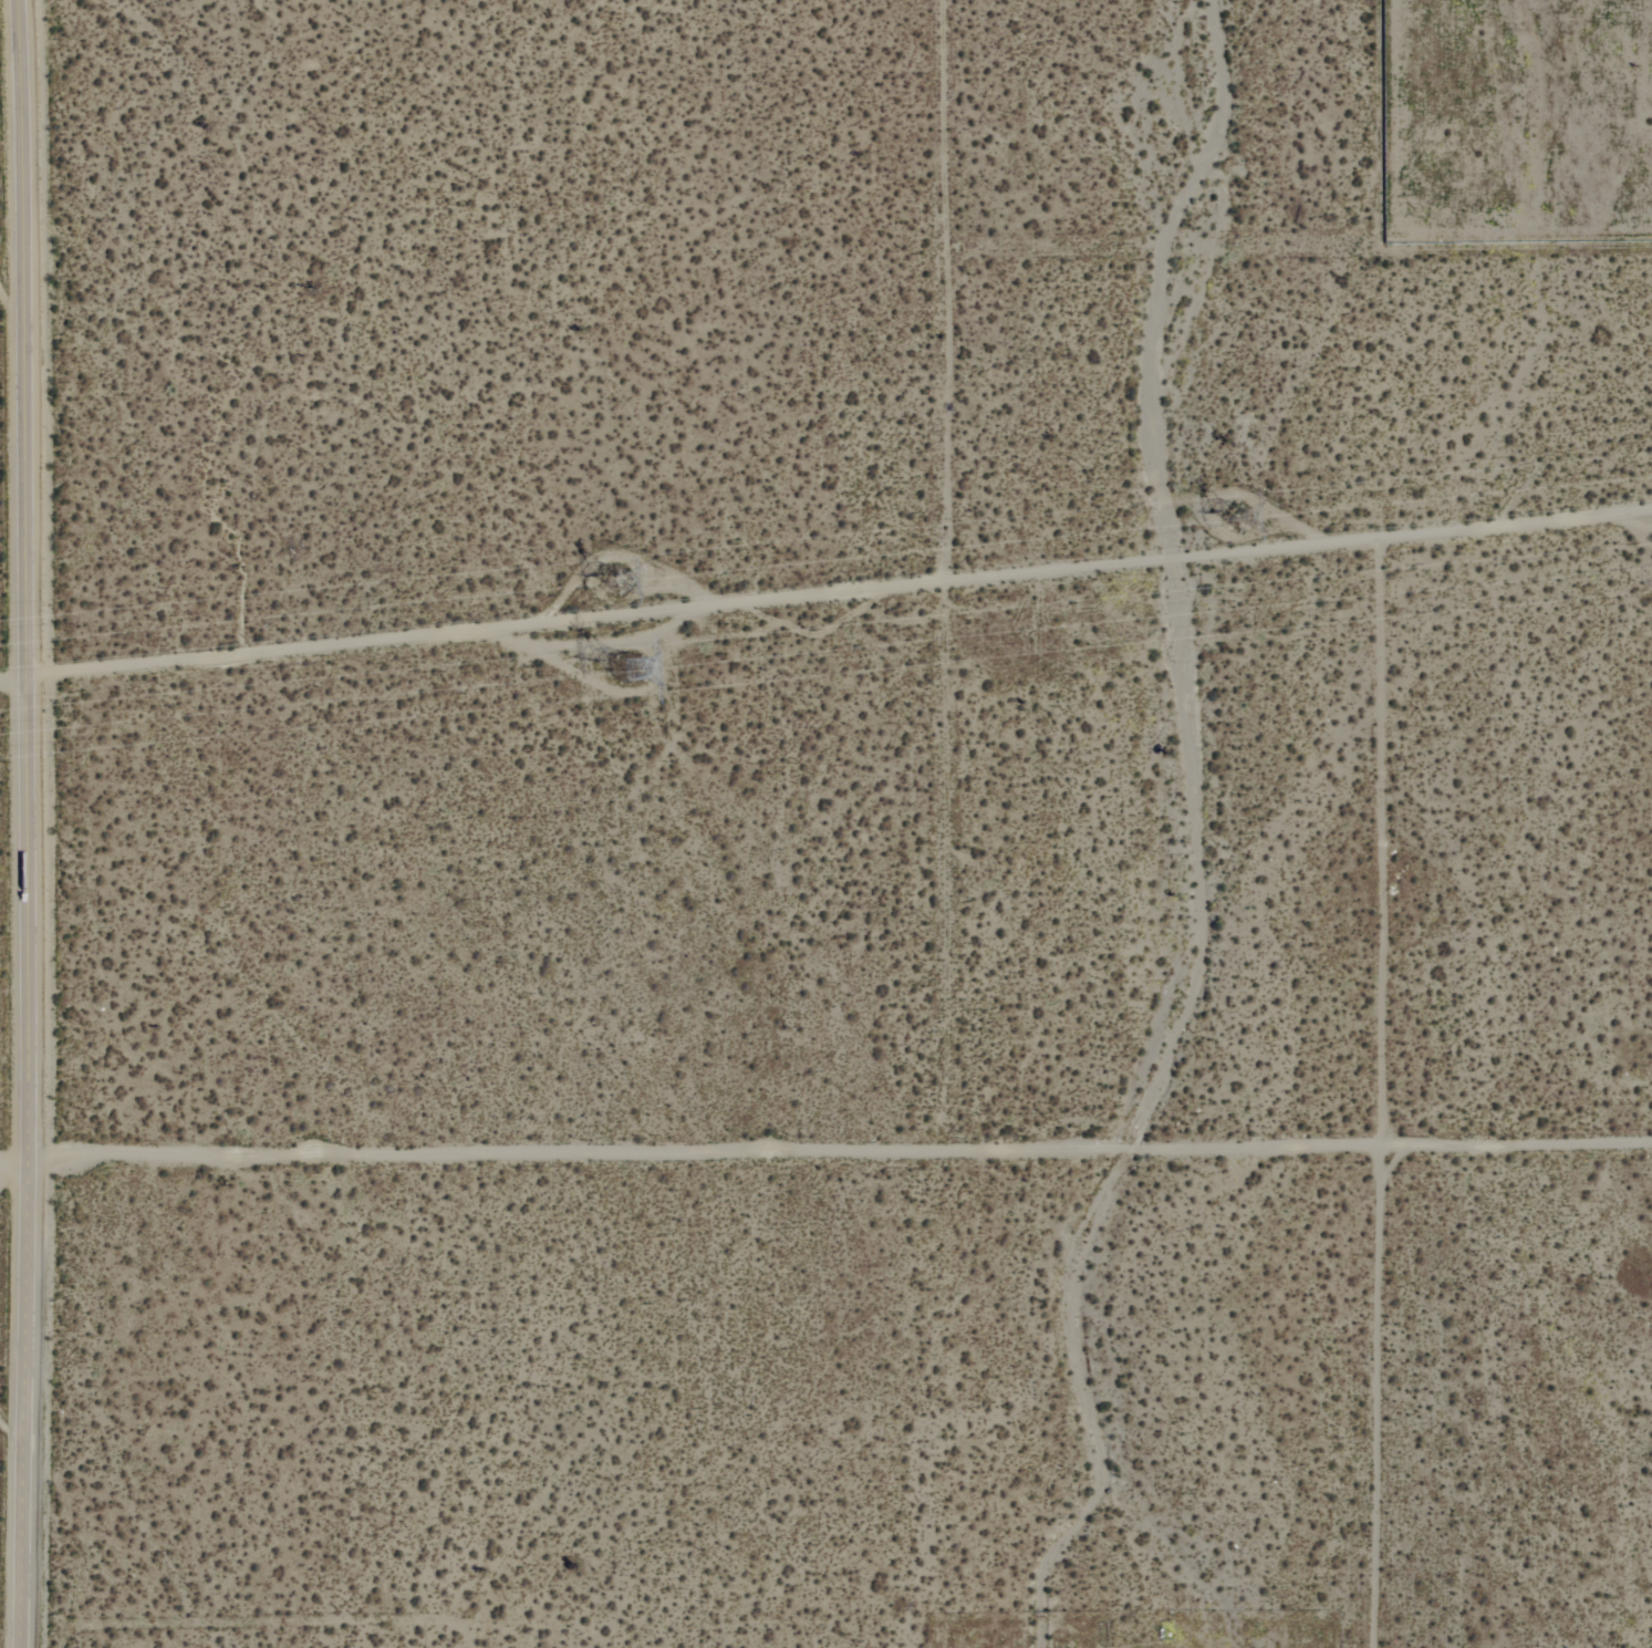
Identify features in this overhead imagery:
road: (1296, 272)
power tower: (1240, 522)
road: (946, 570)
power tower: (617, 583)
road: (825, 599)
power tower: (625, 672)
road: (28, 823)
road: (1383, 849)
road: (841, 1141)
road: (15, 1150)
road: (1373, 1399)

